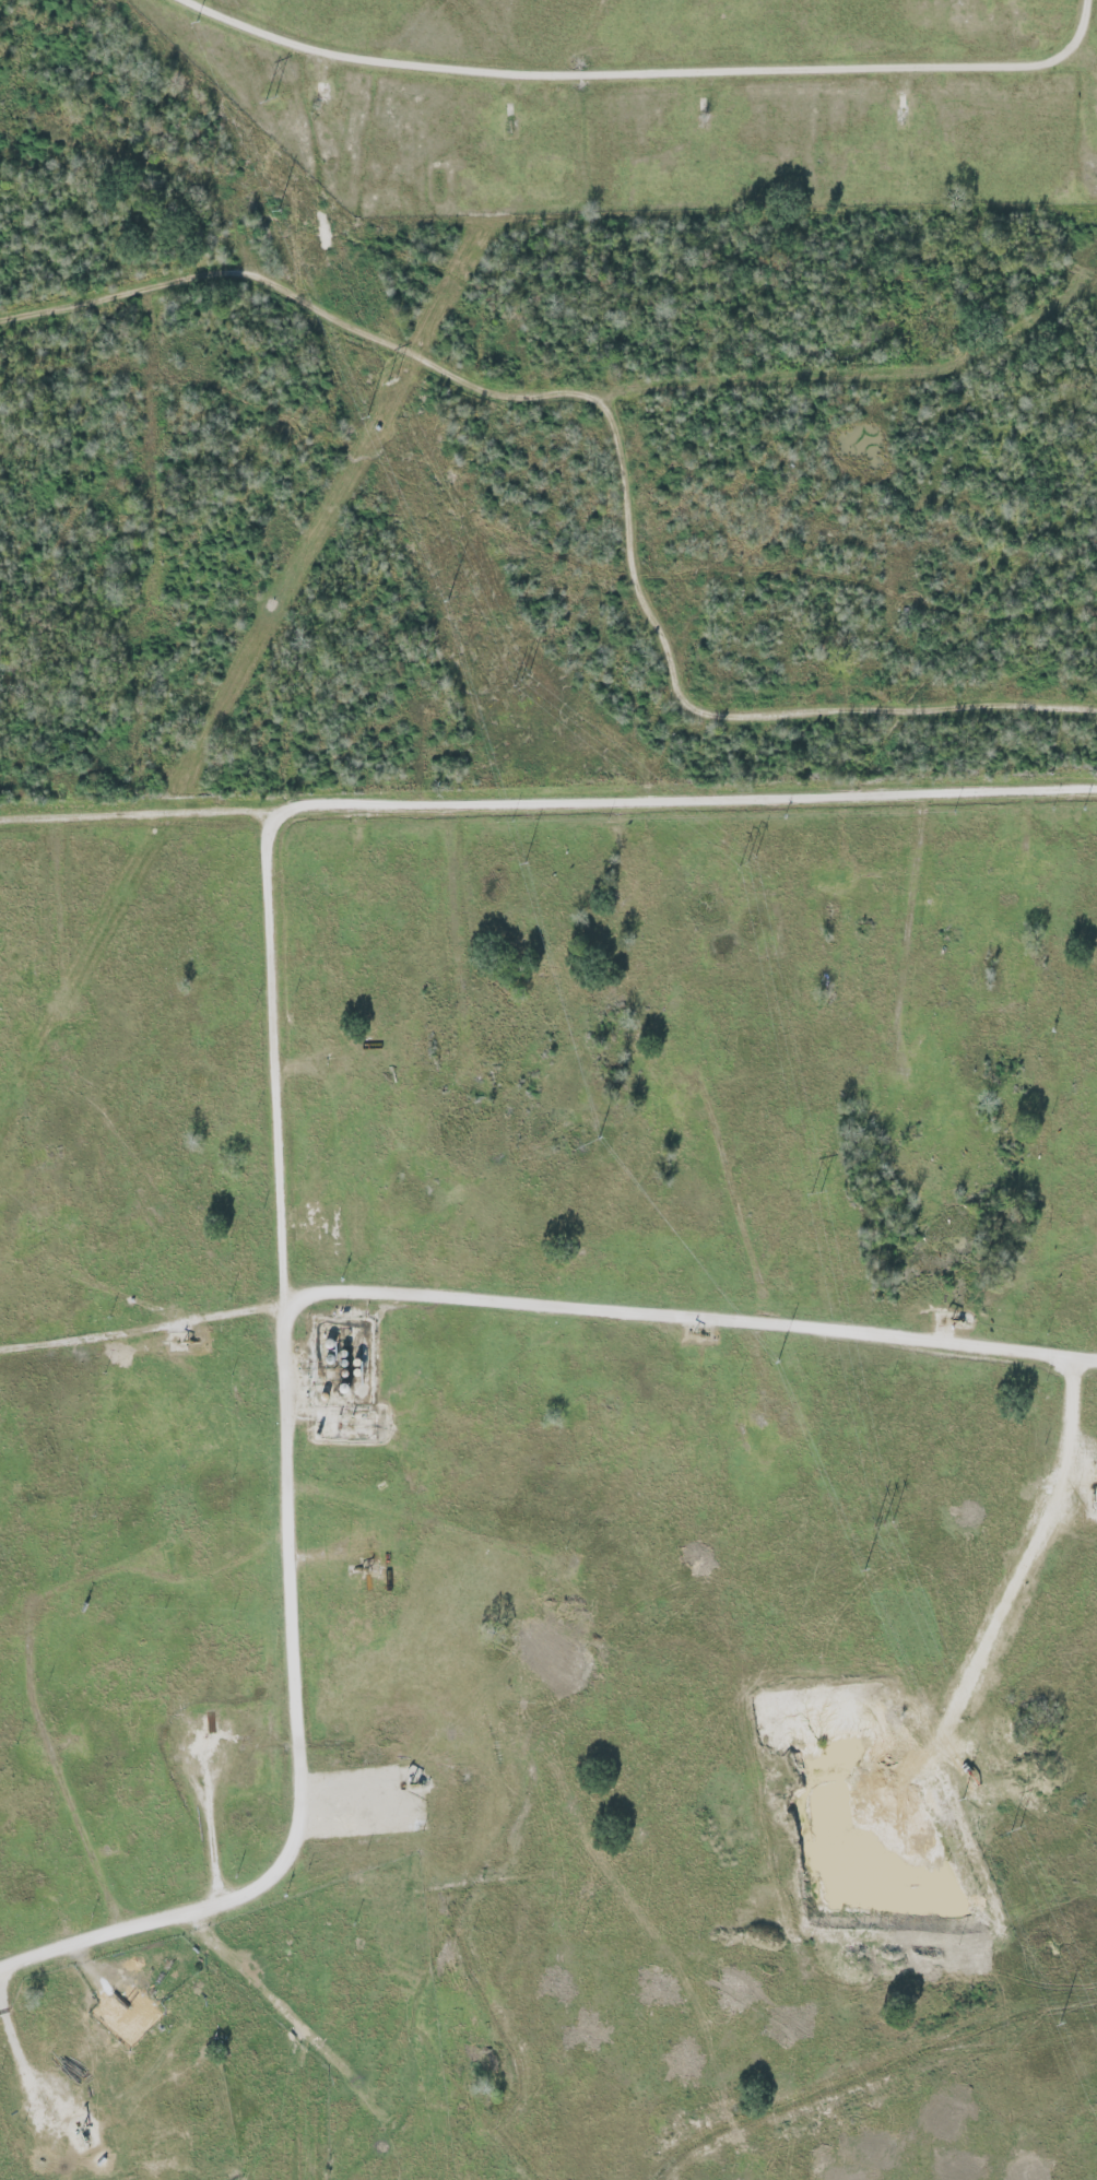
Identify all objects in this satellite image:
road: (291, 45)
road: (771, 73)
power tower: (268, 99)
power tower: (391, 385)
road: (474, 389)
power tower: (518, 681)
road: (726, 719)
road: (547, 805)
power tower: (746, 862)
power tower: (815, 1193)
road: (738, 1200)
road: (546, 1307)
road: (288, 1494)
road: (413, 1518)
power tower: (883, 1525)
power tower: (1014, 1833)
road: (214, 1838)
road: (23, 2062)

